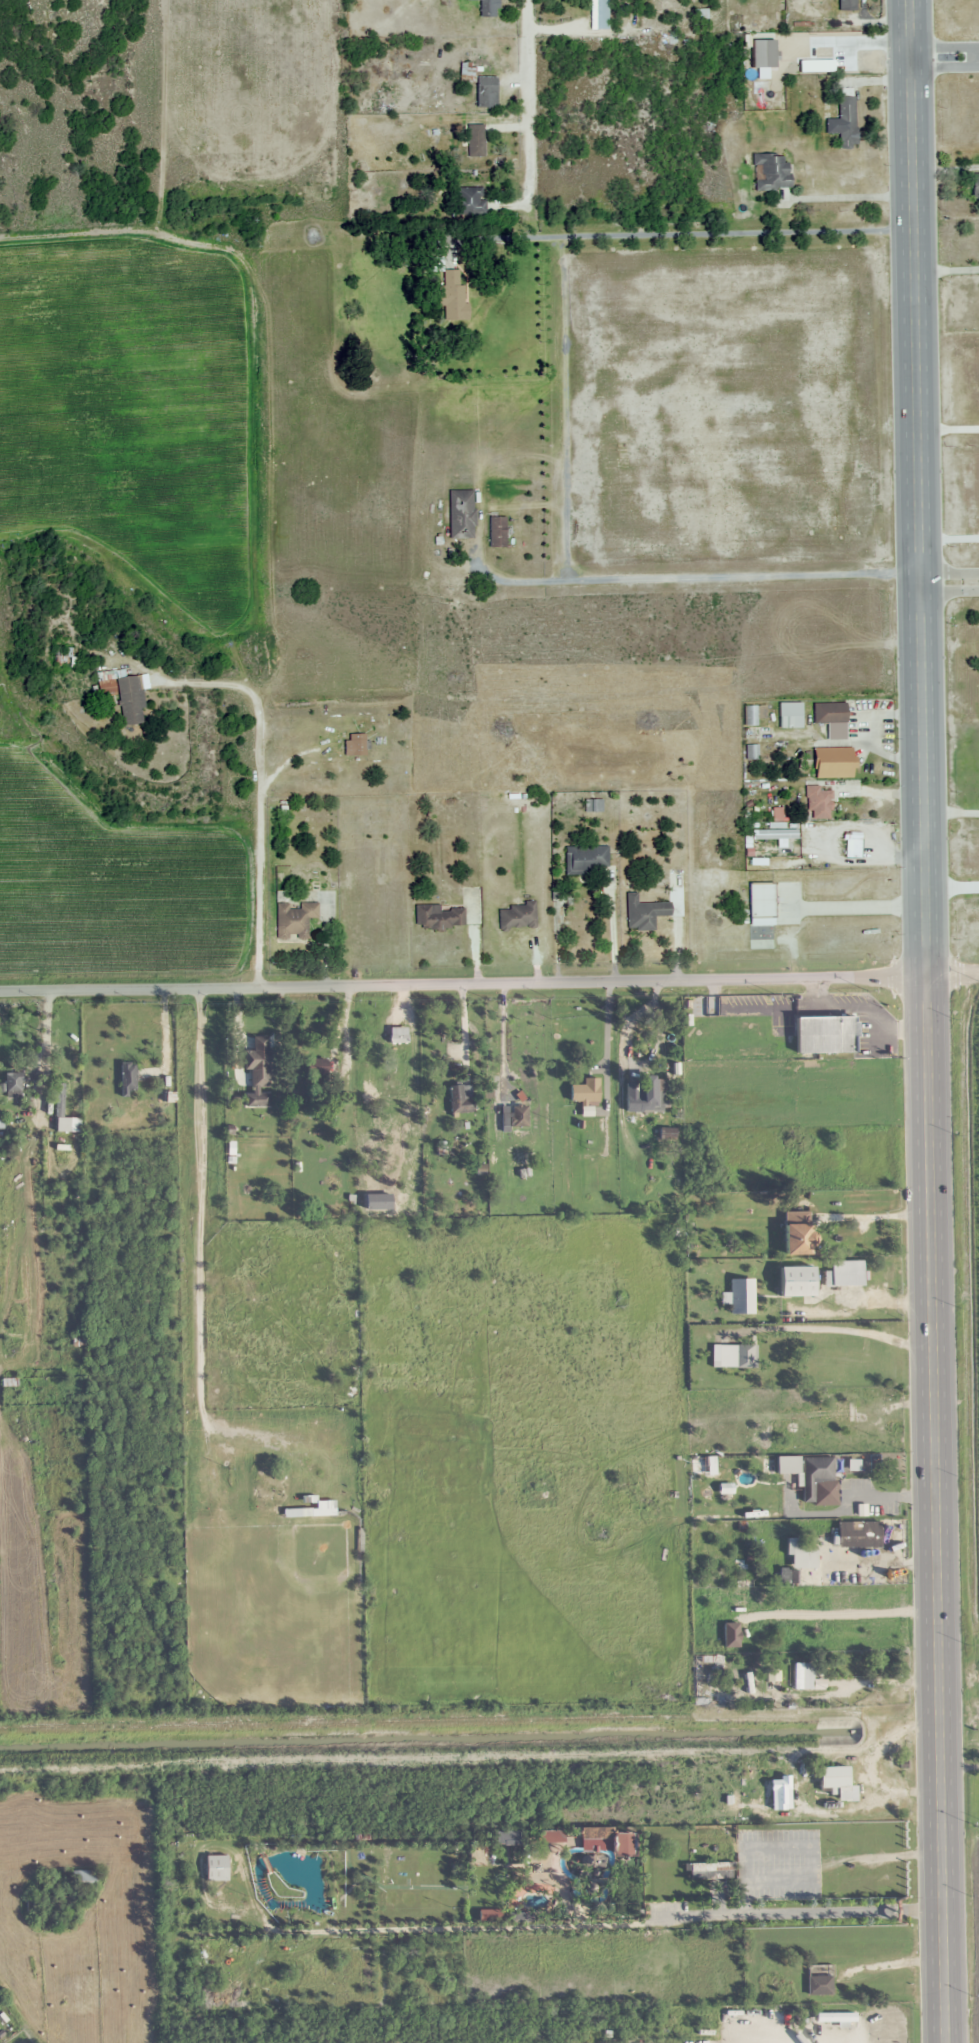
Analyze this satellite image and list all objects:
building: (846, 5)
building: (486, 8)
road: (945, 55)
road: (432, 60)
building: (465, 72)
building: (765, 74)
road: (528, 100)
building: (843, 123)
building: (474, 141)
building: (769, 172)
building: (974, 184)
building: (469, 201)
building: (433, 264)
building: (452, 295)
road: (765, 348)
building: (460, 514)
building: (496, 532)
road: (950, 581)
building: (63, 656)
building: (124, 695)
building: (788, 715)
building: (828, 718)
building: (357, 743)
building: (831, 762)
building: (817, 803)
building: (592, 805)
building: (583, 858)
building: (758, 903)
building: (642, 912)
building: (436, 916)
building: (516, 916)
building: (294, 920)
road: (463, 977)
road: (953, 977)
road: (927, 1021)
building: (824, 1034)
building: (256, 1058)
building: (321, 1066)
building: (369, 1076)
building: (129, 1078)
building: (15, 1084)
building: (583, 1093)
building: (652, 1097)
building: (60, 1099)
building: (257, 1099)
building: (460, 1099)
building: (518, 1116)
building: (1, 1124)
building: (666, 1133)
building: (797, 1238)
building: (845, 1273)
building: (795, 1281)
building: (741, 1296)
building: (734, 1356)
building: (841, 1412)
building: (786, 1465)
building: (818, 1481)
building: (858, 1534)
building: (800, 1555)
building: (802, 1677)
building: (772, 1680)
building: (833, 1780)
building: (594, 1833)
building: (599, 1862)
building: (215, 1868)
building: (710, 1871)
building: (84, 1879)
building: (819, 1980)
building: (841, 2016)
building: (722, 2025)

